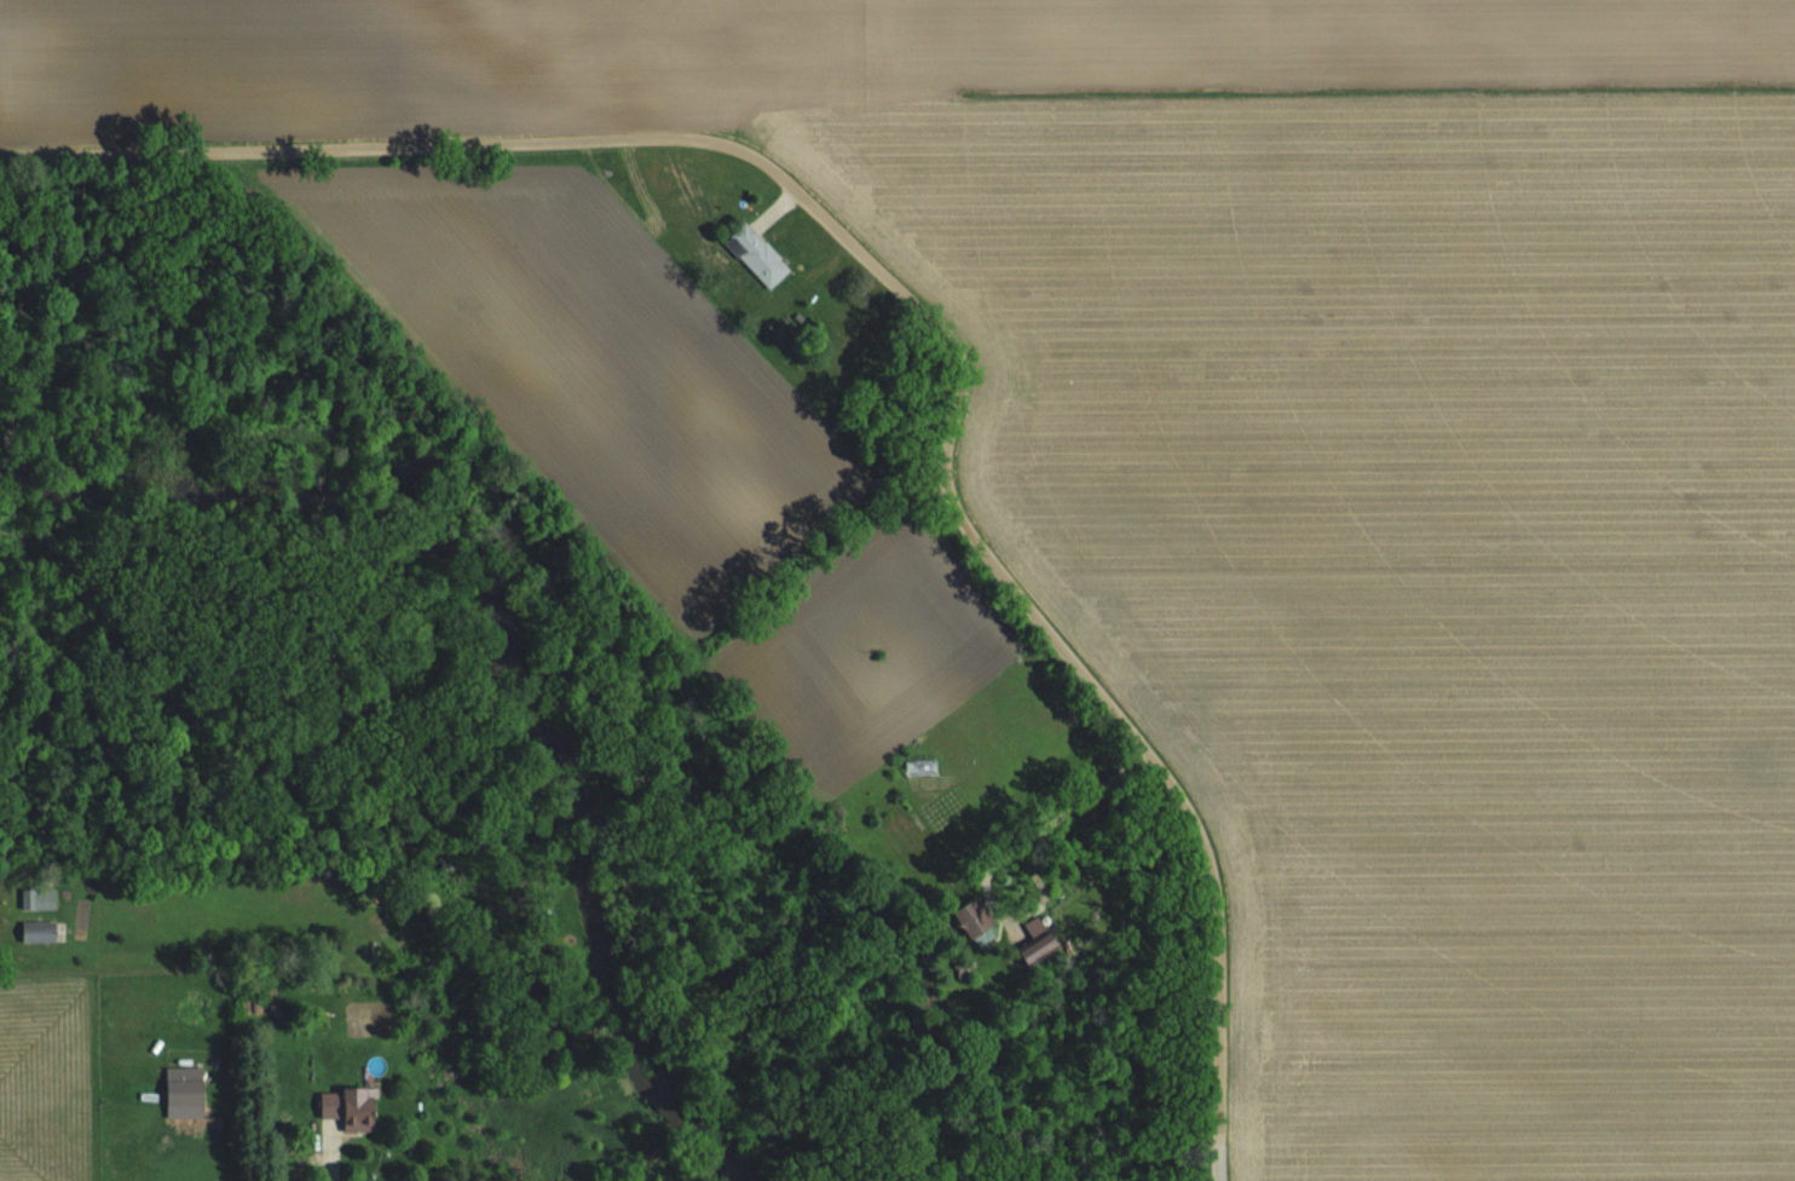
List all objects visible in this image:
building: (760, 254)
road: (922, 306)
building: (41, 931)
building: (253, 1003)
building: (187, 1091)
building: (354, 1106)
road: (329, 1150)

